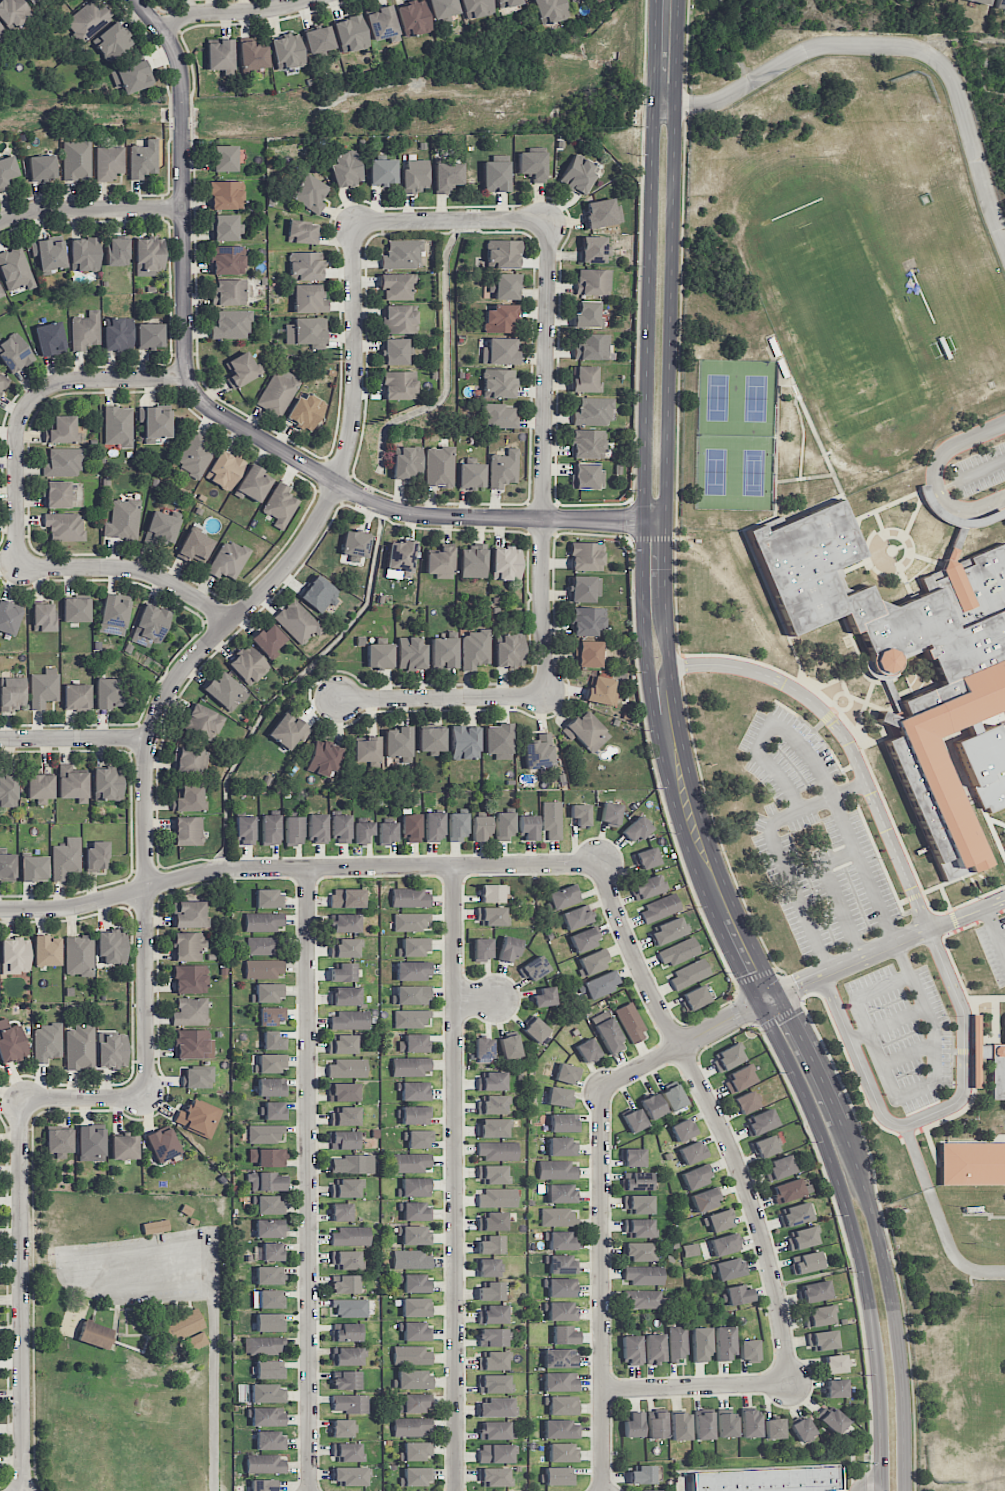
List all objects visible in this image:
building: (29, 1)
building: (596, 1)
building: (979, 1)
building: (506, 3)
building: (1000, 4)
building: (442, 8)
building: (475, 8)
building: (549, 10)
building: (12, 12)
road: (231, 12)
building: (413, 18)
building: (87, 19)
building: (381, 23)
building: (2, 33)
building: (350, 33)
building: (318, 39)
building: (112, 41)
road: (687, 45)
road: (889, 45)
building: (287, 51)
building: (220, 54)
building: (252, 55)
building: (131, 76)
road: (685, 104)
park: (894, 138)
building: (223, 158)
building: (76, 159)
building: (142, 159)
building: (108, 162)
building: (532, 165)
building: (42, 167)
building: (345, 168)
building: (6, 170)
building: (381, 171)
building: (578, 174)
building: (413, 175)
building: (446, 176)
building: (495, 176)
building: (309, 193)
building: (225, 195)
road: (90, 209)
building: (602, 213)
road: (451, 221)
building: (225, 227)
building: (301, 232)
building: (593, 249)
building: (117, 251)
building: (502, 253)
building: (84, 254)
building: (401, 254)
building: (48, 255)
building: (148, 255)
building: (227, 259)
building: (305, 265)
building: (15, 269)
building: (592, 281)
road: (638, 283)
building: (396, 286)
building: (506, 286)
building: (229, 291)
building: (0, 292)
building: (308, 298)
building: (587, 315)
building: (499, 318)
building: (398, 319)
park: (841, 319)
building: (231, 325)
building: (85, 330)
building: (306, 332)
building: (118, 334)
building: (150, 335)
building: (50, 338)
building: (591, 346)
building: (396, 351)
building: (500, 351)
building: (14, 352)
building: (240, 370)
building: (585, 379)
building: (3, 382)
building: (499, 383)
building: (399, 385)
road: (679, 385)
building: (277, 391)
road: (28, 405)
building: (306, 411)
building: (498, 415)
building: (155, 422)
road: (232, 422)
building: (118, 426)
building: (61, 430)
park: (734, 434)
building: (587, 443)
building: (195, 454)
road: (544, 458)
building: (63, 461)
building: (407, 462)
building: (439, 466)
building: (503, 468)
parking lot: (980, 469)
building: (224, 470)
road: (980, 470)
road: (934, 474)
building: (470, 476)
building: (586, 476)
building: (253, 484)
building: (57, 494)
building: (280, 505)
road: (631, 518)
building: (123, 519)
building: (64, 526)
building: (162, 526)
road: (652, 538)
building: (194, 546)
building: (354, 546)
building: (586, 556)
building: (400, 557)
building: (228, 560)
building: (472, 561)
building: (440, 562)
building: (506, 563)
road: (131, 567)
building: (583, 589)
building: (318, 593)
building: (75, 609)
building: (113, 613)
building: (9, 617)
building: (43, 617)
building: (587, 620)
building: (297, 621)
building: (149, 625)
building: (268, 640)
road: (206, 644)
building: (475, 649)
building: (509, 650)
building: (443, 652)
building: (410, 653)
building: (588, 653)
building: (379, 656)
building: (247, 664)
road: (680, 665)
building: (43, 688)
building: (601, 690)
building: (225, 691)
building: (962, 692)
building: (12, 693)
building: (108, 693)
building: (76, 696)
road: (442, 697)
building: (203, 722)
building: (288, 731)
building: (586, 731)
road: (648, 734)
road: (817, 734)
road: (75, 738)
building: (431, 740)
building: (498, 740)
road: (761, 741)
building: (398, 742)
building: (465, 742)
building: (366, 749)
building: (538, 751)
building: (323, 758)
building: (187, 759)
road: (689, 764)
road: (664, 765)
road: (868, 765)
building: (71, 782)
building: (107, 783)
building: (40, 788)
road: (850, 788)
building: (8, 791)
road: (832, 796)
building: (189, 798)
building: (580, 814)
building: (610, 814)
building: (551, 819)
building: (504, 825)
building: (433, 826)
building: (457, 826)
building: (411, 827)
building: (480, 827)
building: (527, 827)
road: (715, 827)
building: (317, 828)
building: (340, 828)
building: (244, 829)
building: (270, 829)
building: (635, 829)
building: (187, 830)
building: (293, 830)
building: (362, 831)
building: (387, 832)
parking lot: (813, 837)
building: (97, 855)
road: (877, 855)
road: (840, 857)
building: (66, 858)
building: (646, 858)
building: (7, 866)
road: (296, 866)
building: (33, 868)
road: (950, 880)
building: (646, 887)
building: (491, 893)
road: (914, 895)
building: (563, 896)
road: (945, 897)
building: (268, 898)
building: (347, 898)
building: (410, 898)
road: (903, 901)
building: (659, 908)
road: (843, 910)
building: (189, 914)
building: (491, 915)
building: (576, 917)
building: (264, 921)
building: (410, 921)
building: (345, 923)
building: (667, 931)
road: (995, 931)
road: (929, 933)
building: (584, 939)
building: (260, 945)
road: (891, 945)
building: (112, 946)
building: (189, 946)
building: (415, 946)
parking lot: (994, 946)
building: (345, 948)
building: (482, 949)
building: (508, 949)
building: (46, 951)
building: (678, 952)
building: (14, 955)
building: (79, 955)
building: (593, 961)
building: (264, 968)
building: (534, 968)
building: (412, 970)
road: (782, 970)
building: (343, 972)
building: (688, 974)
traffic signals: (745, 974)
road: (756, 975)
building: (190, 979)
building: (599, 984)
traffic signals: (799, 985)
road: (792, 989)
building: (268, 992)
road: (737, 992)
building: (345, 995)
building: (411, 995)
building: (544, 997)
building: (694, 998)
road: (475, 999)
building: (190, 1011)
road: (736, 1013)
building: (270, 1015)
road: (781, 1016)
building: (410, 1018)
traffic signals: (733, 1018)
traffic signals: (791, 1018)
building: (350, 1020)
building: (1004, 1021)
building: (630, 1022)
road: (753, 1024)
road: (887, 1024)
building: (535, 1030)
building: (607, 1032)
parking lot: (904, 1032)
building: (1004, 1034)
building: (272, 1041)
road: (689, 1041)
building: (11, 1042)
building: (46, 1042)
building: (414, 1043)
building: (193, 1044)
building: (342, 1044)
building: (80, 1045)
building: (509, 1046)
building: (111, 1049)
building: (483, 1050)
building: (587, 1050)
road: (961, 1051)
building: (975, 1051)
road: (907, 1054)
building: (727, 1057)
building: (271, 1062)
building: (411, 1066)
building: (347, 1068)
building: (997, 1071)
building: (566, 1073)
building: (197, 1076)
building: (738, 1079)
building: (491, 1081)
building: (270, 1087)
building: (414, 1091)
building: (343, 1092)
road: (907, 1093)
building: (560, 1097)
building: (672, 1097)
road: (83, 1099)
building: (745, 1102)
building: (491, 1104)
building: (652, 1106)
building: (274, 1110)
building: (345, 1115)
building: (415, 1115)
road: (715, 1116)
building: (198, 1118)
building: (634, 1120)
building: (760, 1122)
building: (563, 1123)
building: (492, 1128)
building: (682, 1129)
building: (265, 1133)
building: (343, 1139)
building: (419, 1139)
building: (59, 1140)
building: (91, 1143)
building: (162, 1144)
building: (562, 1146)
building: (765, 1146)
building: (124, 1147)
building: (496, 1150)
building: (692, 1152)
building: (267, 1156)
building: (633, 1157)
building: (411, 1162)
building: (972, 1163)
building: (352, 1164)
building: (779, 1167)
building: (557, 1169)
building: (492, 1174)
building: (696, 1176)
road: (307, 1178)
road: (454, 1178)
building: (636, 1180)
building: (265, 1181)
building: (414, 1187)
building: (345, 1188)
building: (790, 1190)
building: (562, 1193)
building: (496, 1198)
building: (706, 1199)
building: (637, 1203)
building: (267, 1204)
building: (417, 1211)
building: (341, 1212)
building: (795, 1214)
road: (938, 1216)
building: (557, 1217)
building: (719, 1220)
building: (492, 1221)
building: (155, 1226)
building: (269, 1228)
building: (639, 1228)
building: (414, 1235)
building: (350, 1236)
building: (802, 1238)
road: (888, 1239)
building: (561, 1240)
building: (490, 1244)
building: (725, 1244)
building: (689, 1249)
building: (638, 1251)
building: (271, 1252)
road: (849, 1252)
road: (72, 1259)
building: (411, 1259)
building: (346, 1260)
building: (805, 1262)
building: (561, 1264)
building: (488, 1267)
building: (729, 1268)
building: (268, 1275)
building: (643, 1275)
building: (415, 1283)
building: (344, 1284)
building: (561, 1287)
road: (602, 1289)
building: (490, 1291)
building: (815, 1291)
building: (738, 1294)
road: (22, 1295)
building: (267, 1298)
building: (644, 1299)
building: (350, 1307)
building: (415, 1307)
building: (562, 1311)
building: (492, 1314)
building: (819, 1315)
building: (269, 1323)
building: (185, 1324)
building: (346, 1331)
building: (416, 1331)
building: (95, 1334)
building: (564, 1335)
building: (492, 1337)
building: (821, 1340)
building: (195, 1341)
building: (677, 1343)
building: (724, 1343)
building: (700, 1344)
building: (263, 1345)
building: (654, 1348)
building: (631, 1349)
building: (748, 1349)
building: (412, 1355)
building: (346, 1356)
building: (561, 1358)
building: (492, 1360)
building: (834, 1364)
building: (270, 1369)
building: (414, 1379)
building: (346, 1380)
building: (560, 1381)
building: (494, 1383)
road: (213, 1386)
road: (696, 1386)
building: (836, 1387)
building: (266, 1393)
building: (416, 1402)
building: (350, 1403)
building: (560, 1404)
building: (496, 1407)
building: (268, 1416)
building: (831, 1419)
building: (656, 1424)
building: (750, 1424)
building: (633, 1425)
building: (726, 1425)
building: (411, 1426)
building: (680, 1426)
building: (703, 1426)
building: (341, 1428)
building: (774, 1428)
building: (559, 1429)
building: (802, 1429)
park: (967, 1429)
building: (497, 1430)
building: (269, 1440)
building: (415, 1451)
building: (347, 1452)
building: (562, 1452)
building: (495, 1453)
building: (265, 1464)
building: (642, 1474)
building: (348, 1475)
building: (416, 1476)
building: (556, 1476)
building: (494, 1477)
building: (767, 1480)
road: (867, 1481)
road: (682, 1483)
building: (261, 1485)
building: (653, 1490)

